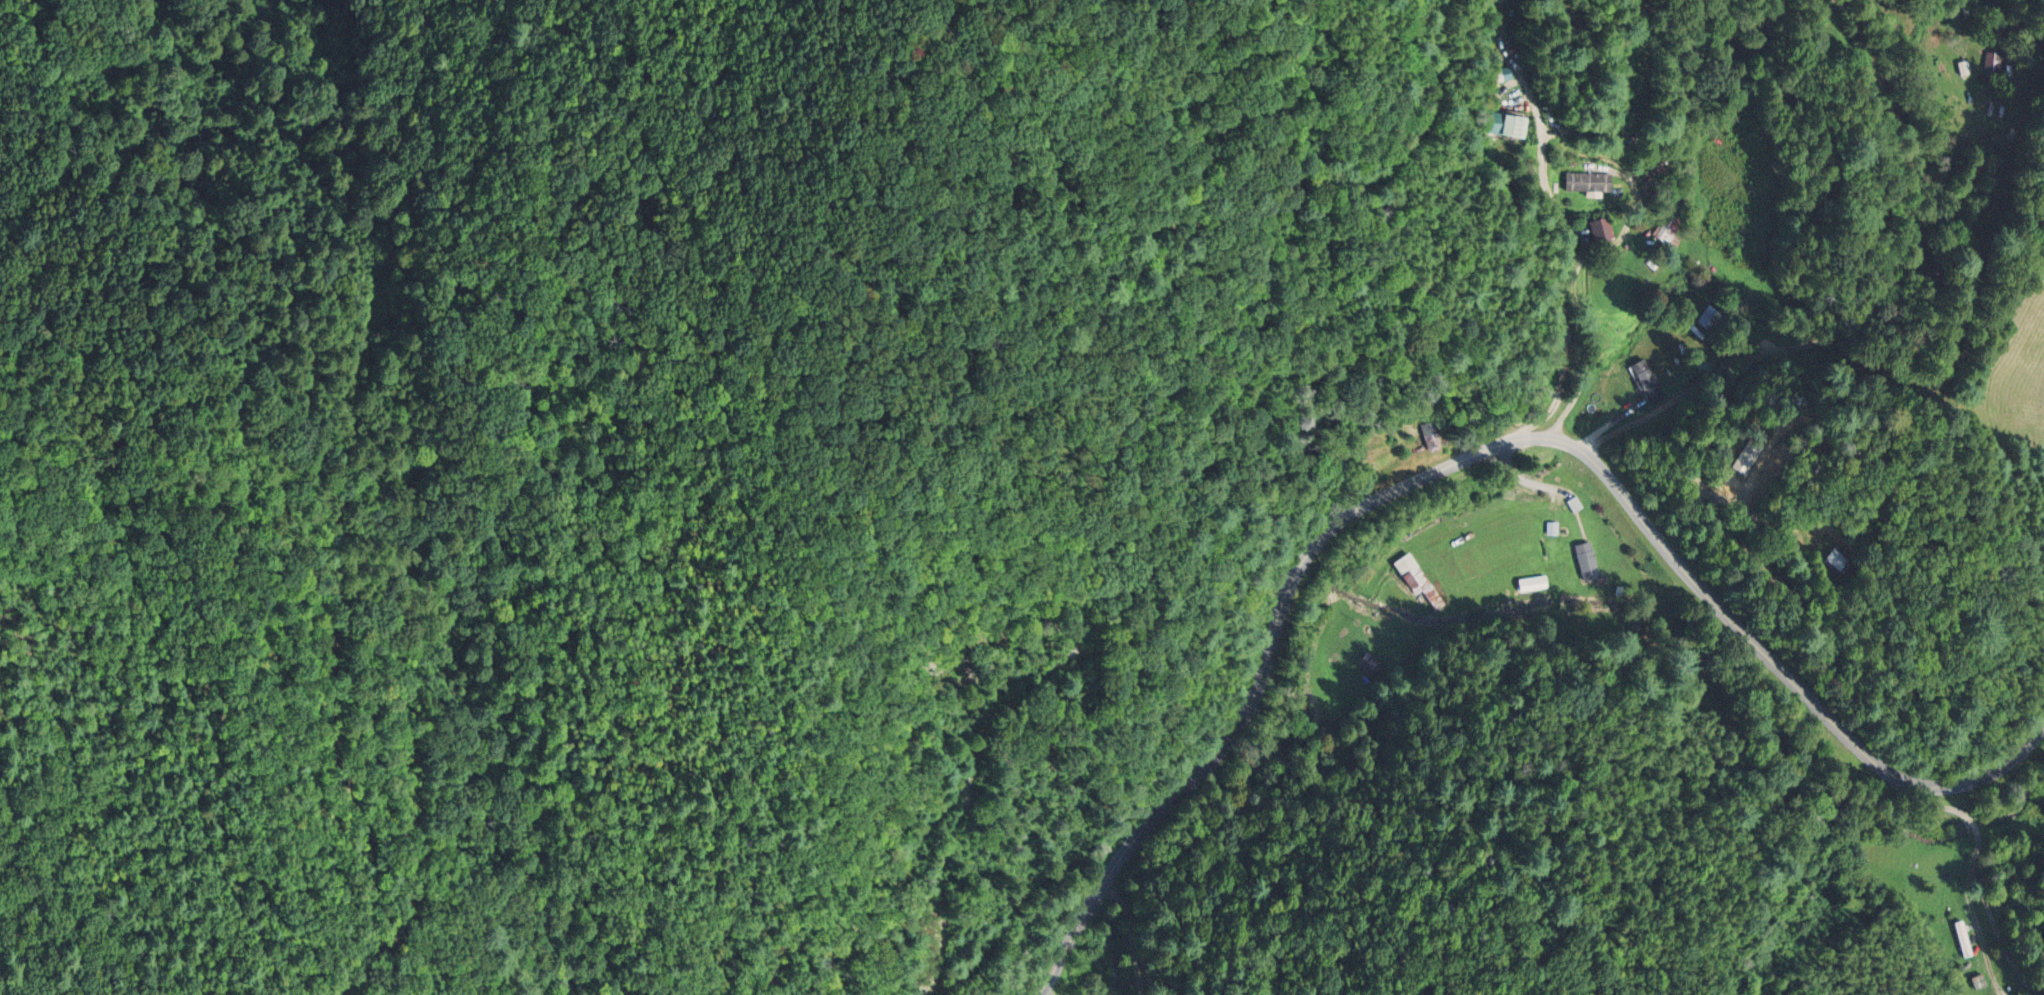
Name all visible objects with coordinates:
building: (1507, 126)
building: (1654, 177)
building: (1587, 183)
building: (1598, 232)
building: (1667, 232)
road: (1564, 287)
road: (1745, 355)
building: (1647, 383)
road: (1481, 451)
building: (1838, 559)
building: (1583, 561)
building: (1415, 583)
building: (1530, 584)
building: (1368, 664)
building: (1959, 940)

